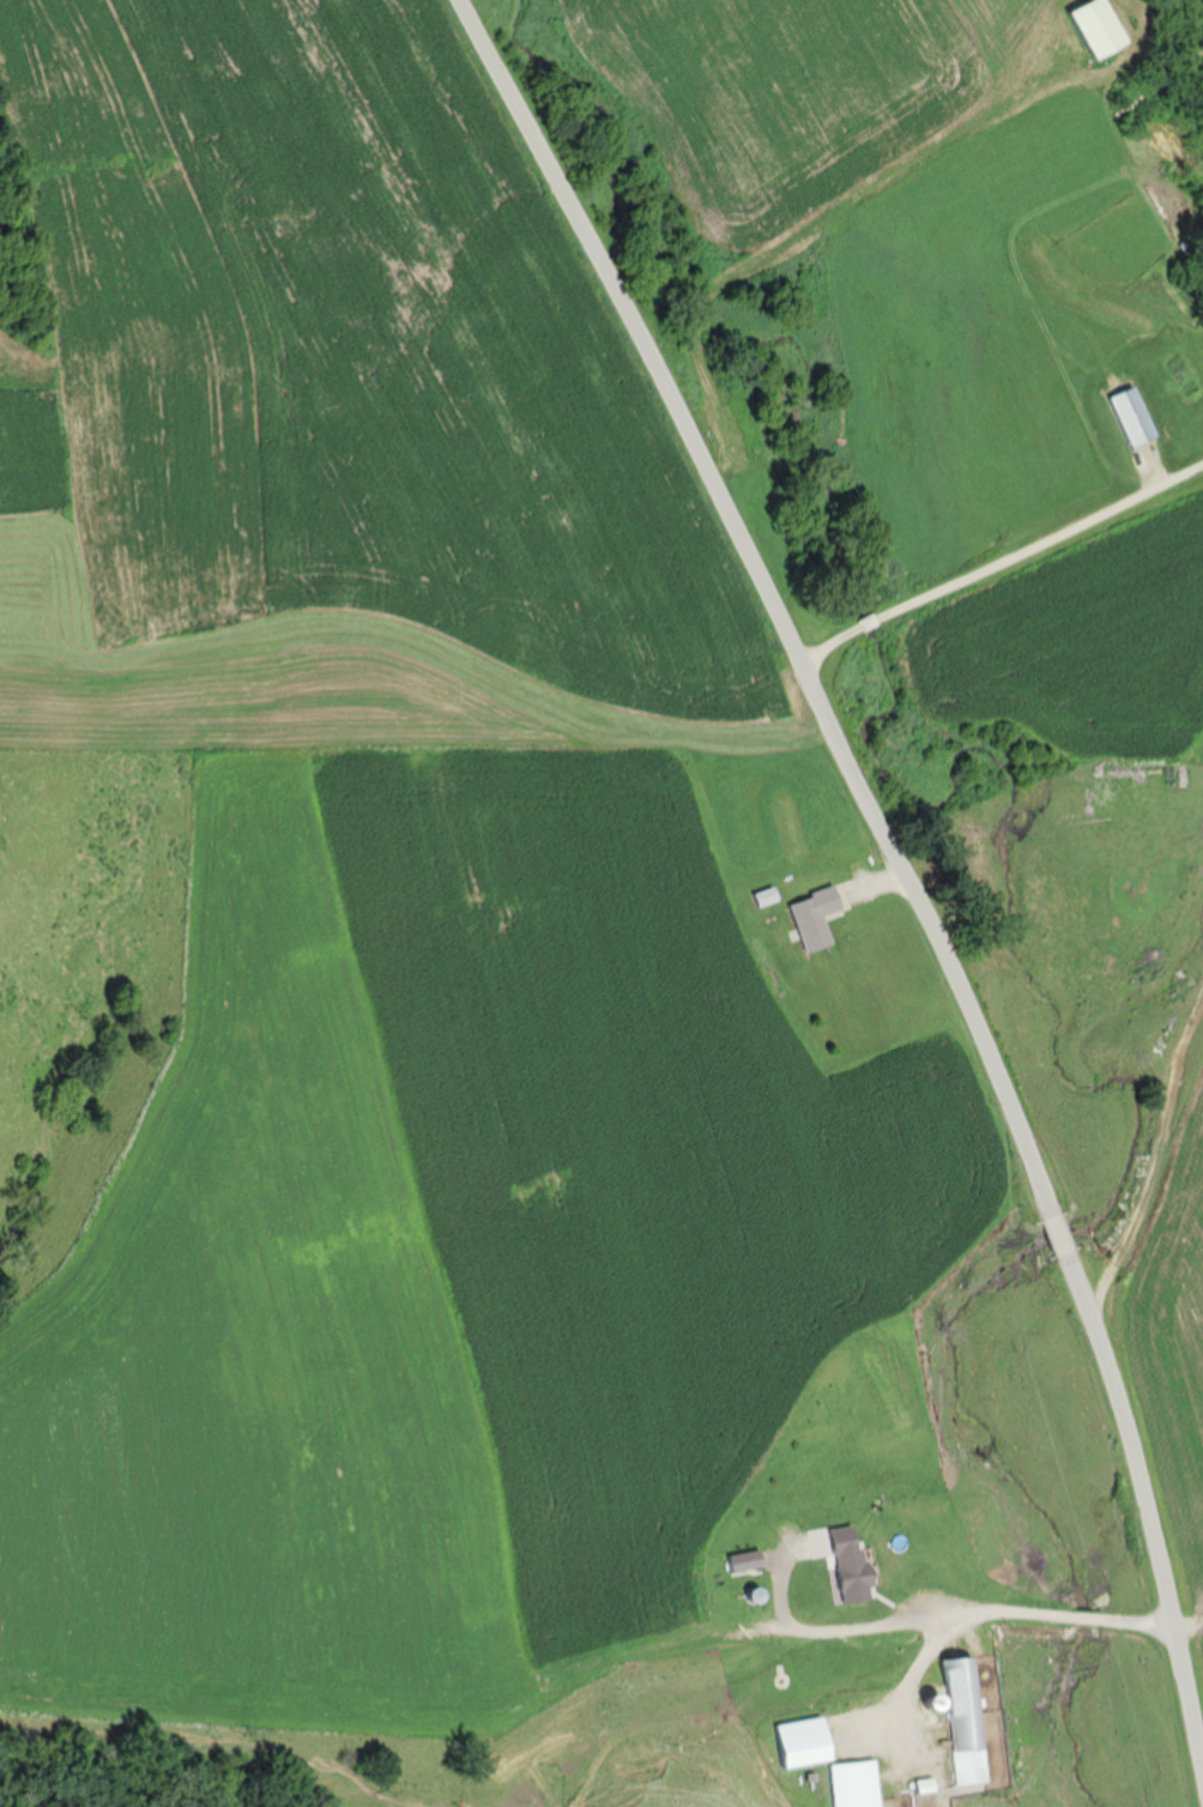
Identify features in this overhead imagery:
road: (990, 550)
road: (882, 868)
building: (764, 895)
building: (814, 915)
building: (891, 1537)
building: (895, 1594)
road: (969, 1615)
building: (961, 1720)
building: (803, 1740)
building: (856, 1783)

